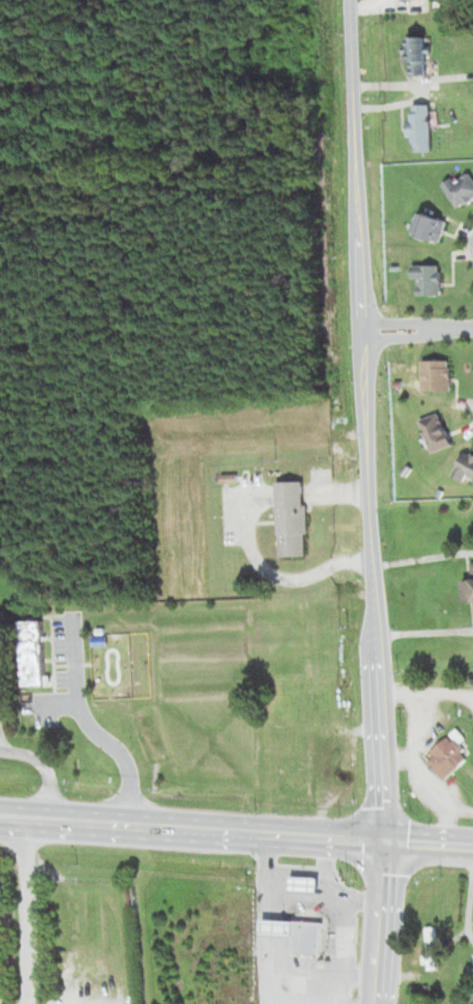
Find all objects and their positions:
building: (418, 56)
building: (420, 128)
building: (461, 187)
building: (430, 227)
building: (392, 267)
building: (427, 278)
road: (399, 320)
road: (456, 327)
road: (400, 336)
building: (437, 374)
building: (397, 382)
road: (363, 420)
building: (436, 431)
building: (462, 466)
building: (229, 478)
building: (437, 490)
building: (291, 518)
road: (421, 559)
building: (337, 574)
building: (470, 583)
road: (423, 632)
building: (34, 653)
building: (449, 751)
road: (44, 768)
road: (190, 827)
traffic signals: (380, 839)
road: (424, 842)
road: (471, 845)
road: (13, 871)
building: (307, 884)
road: (26, 911)
road: (376, 921)
building: (298, 933)
building: (430, 947)
building: (470, 973)
building: (423, 986)

